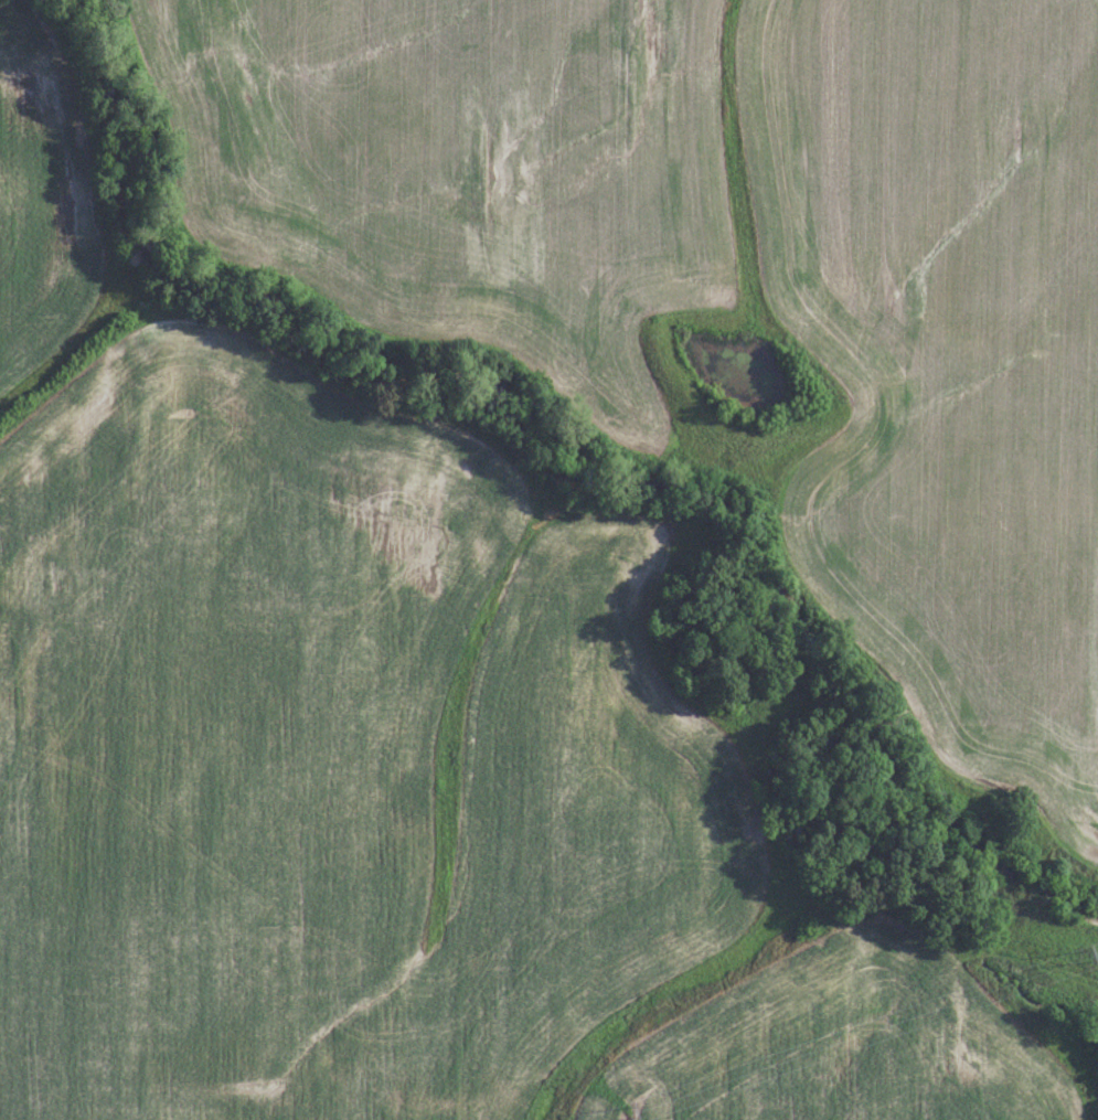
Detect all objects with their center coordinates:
power tower: (1088, 942)
power tower: (629, 1109)

